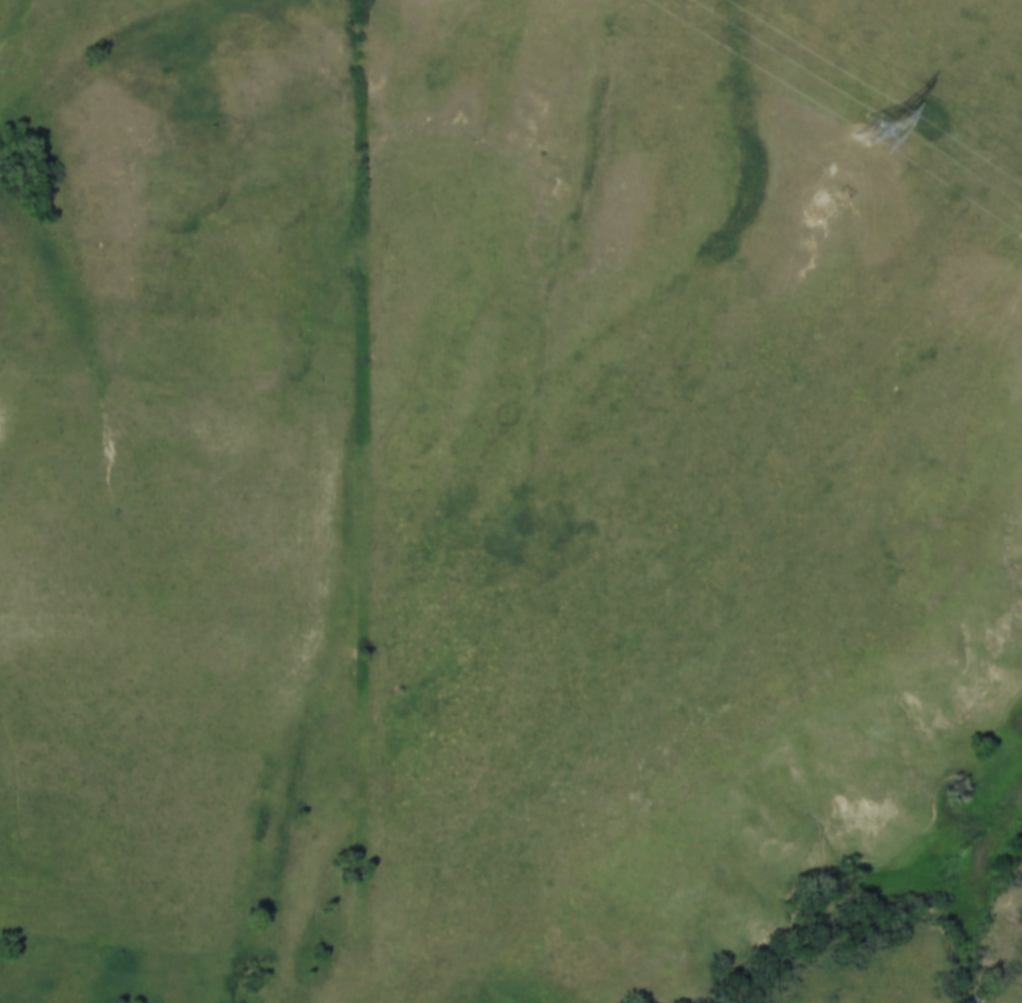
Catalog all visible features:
power tower: (867, 133)

